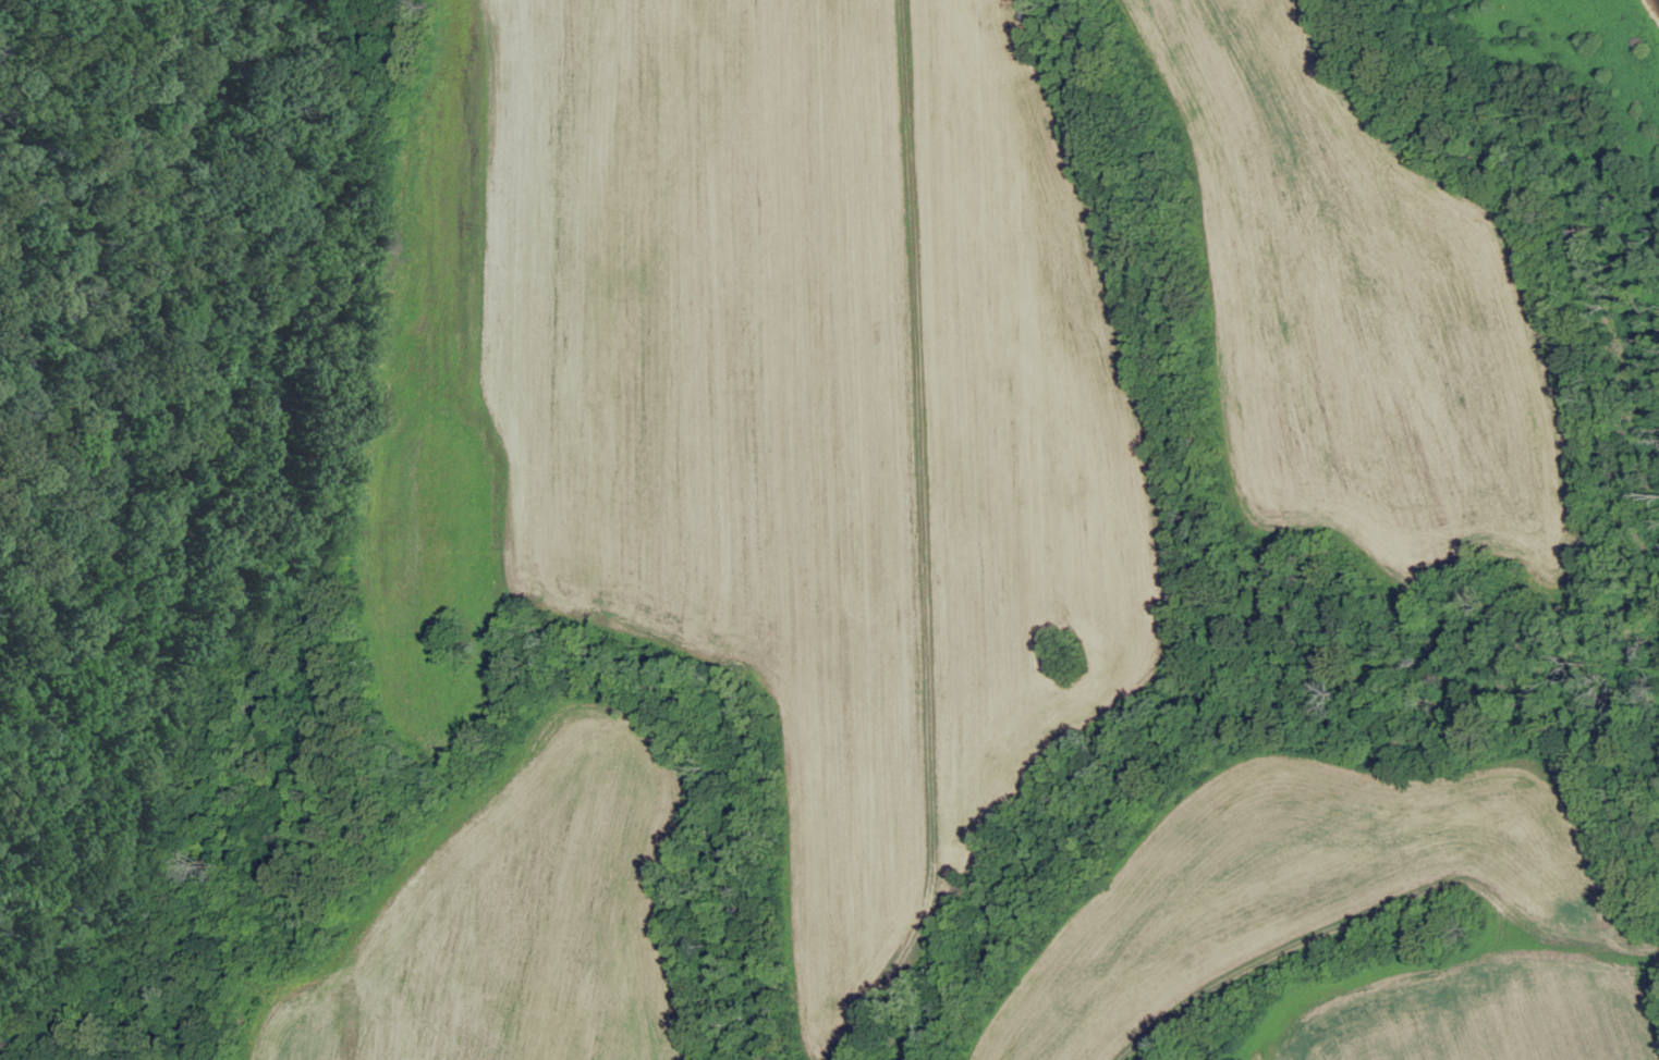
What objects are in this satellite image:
road: (135, 349)

